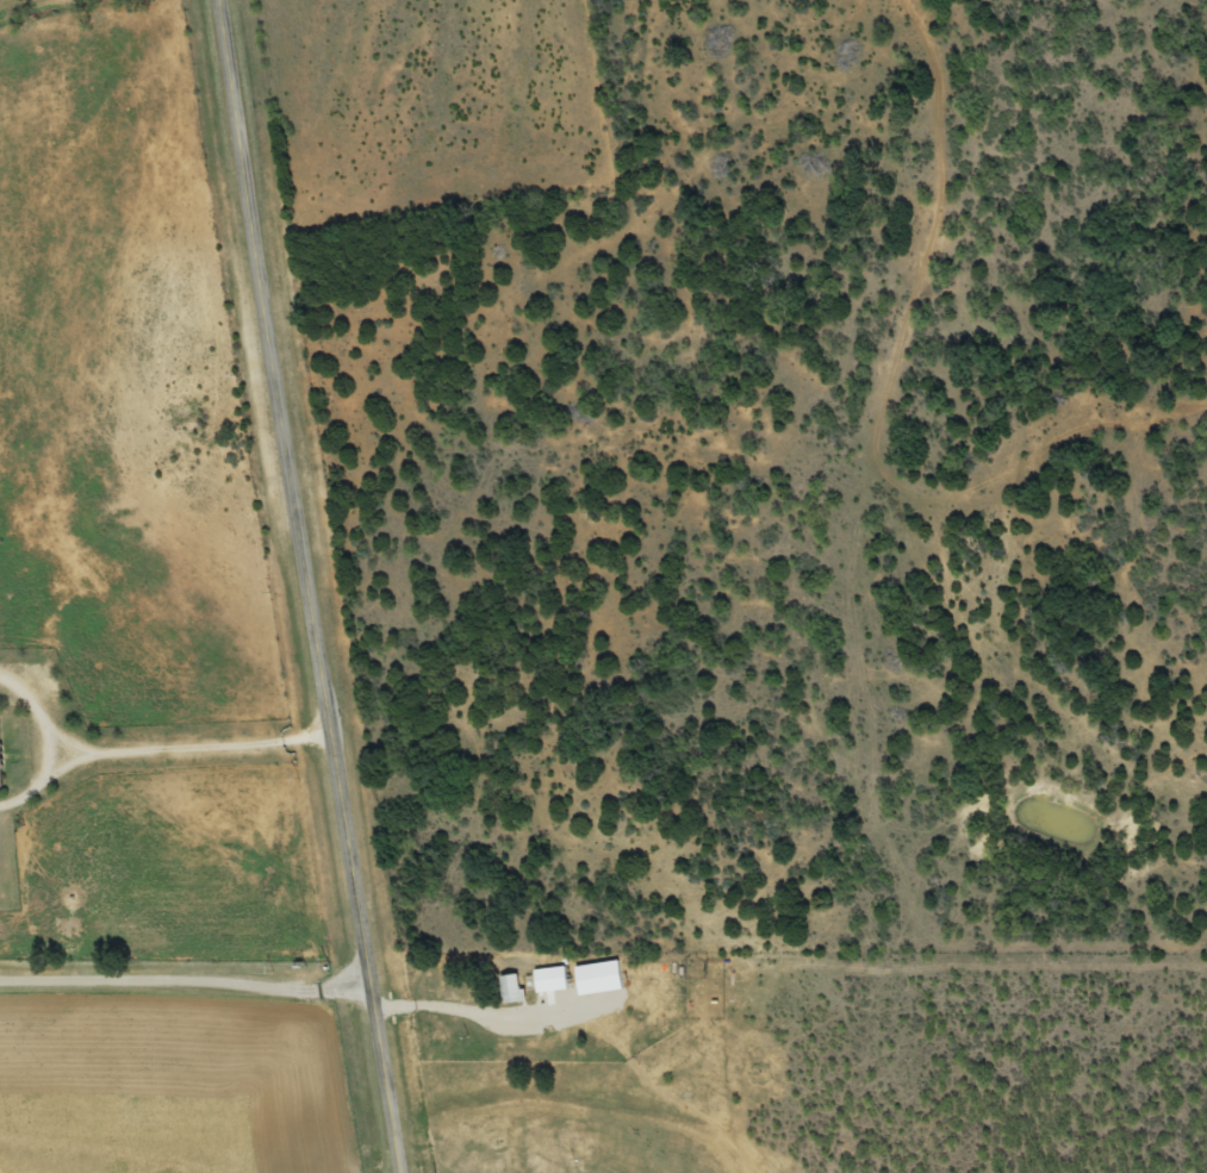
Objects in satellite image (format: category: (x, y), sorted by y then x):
road: (307, 586)
building: (0, 781)
road: (183, 951)
building: (549, 981)
building: (510, 990)

